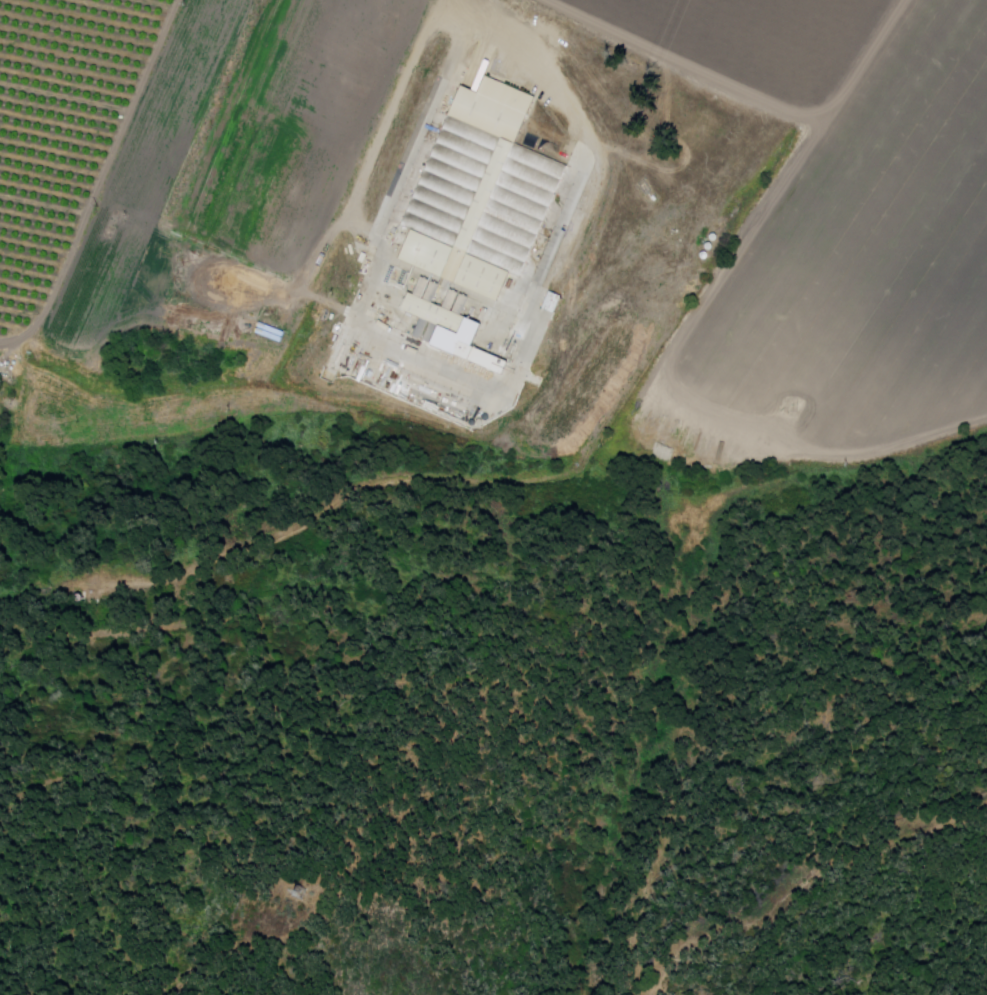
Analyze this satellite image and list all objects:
crop: (761, 35)
road: (748, 82)
road: (391, 122)
building: (481, 192)
storage tank: (715, 237)
storage tank: (710, 246)
crop: (875, 258)
building: (451, 332)
road: (807, 881)
power tower: (297, 901)

